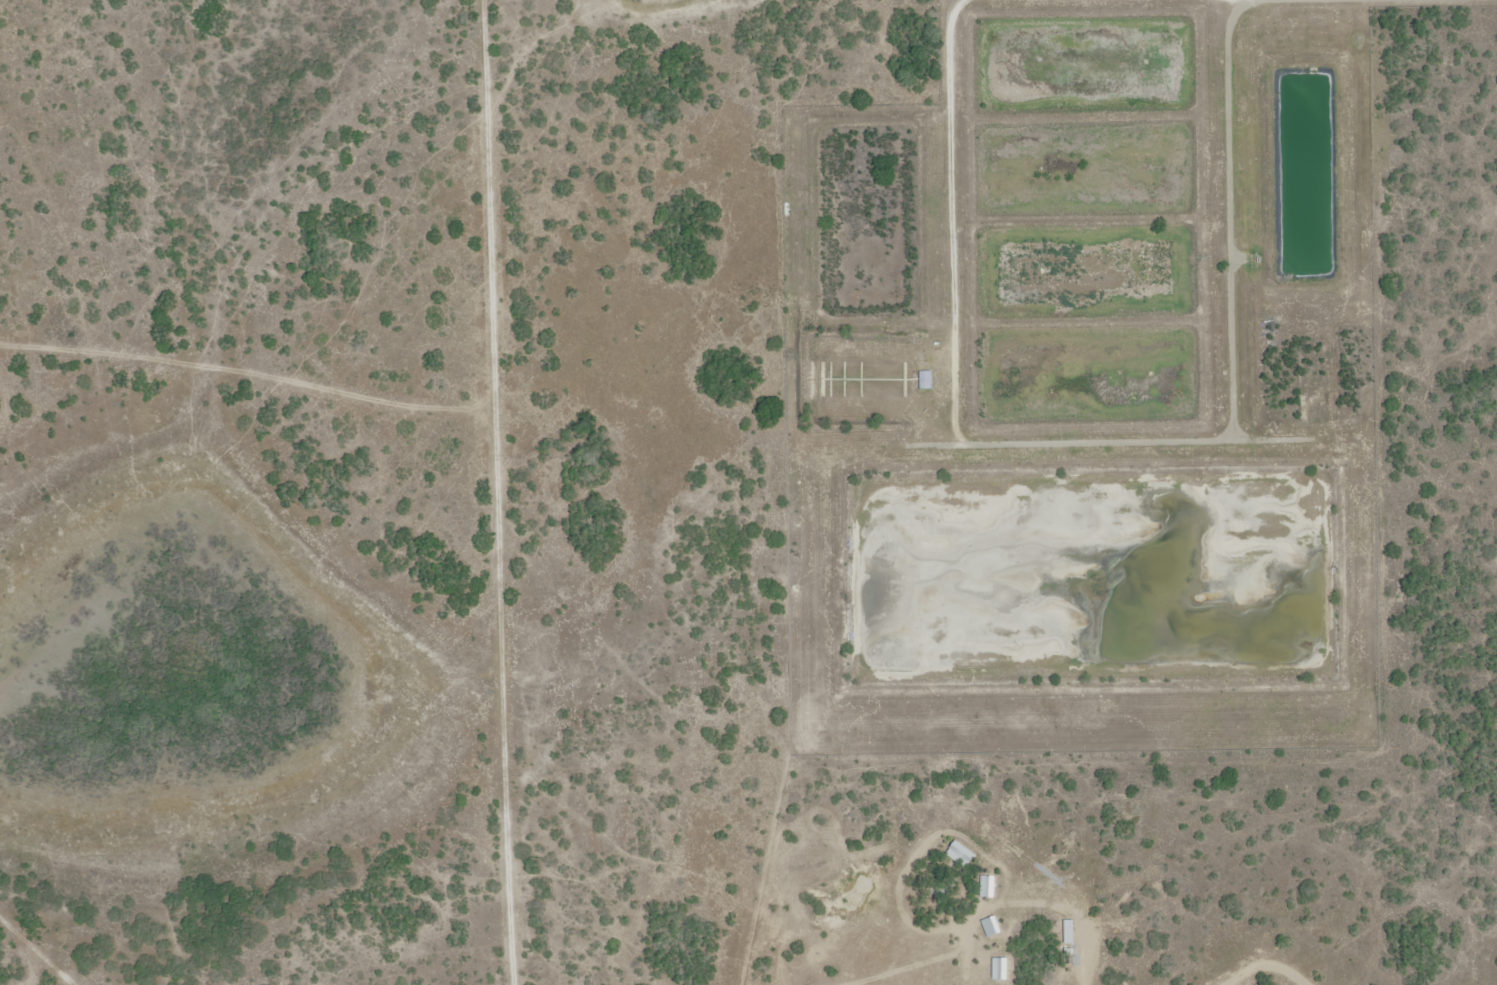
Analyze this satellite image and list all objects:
building: (926, 378)

